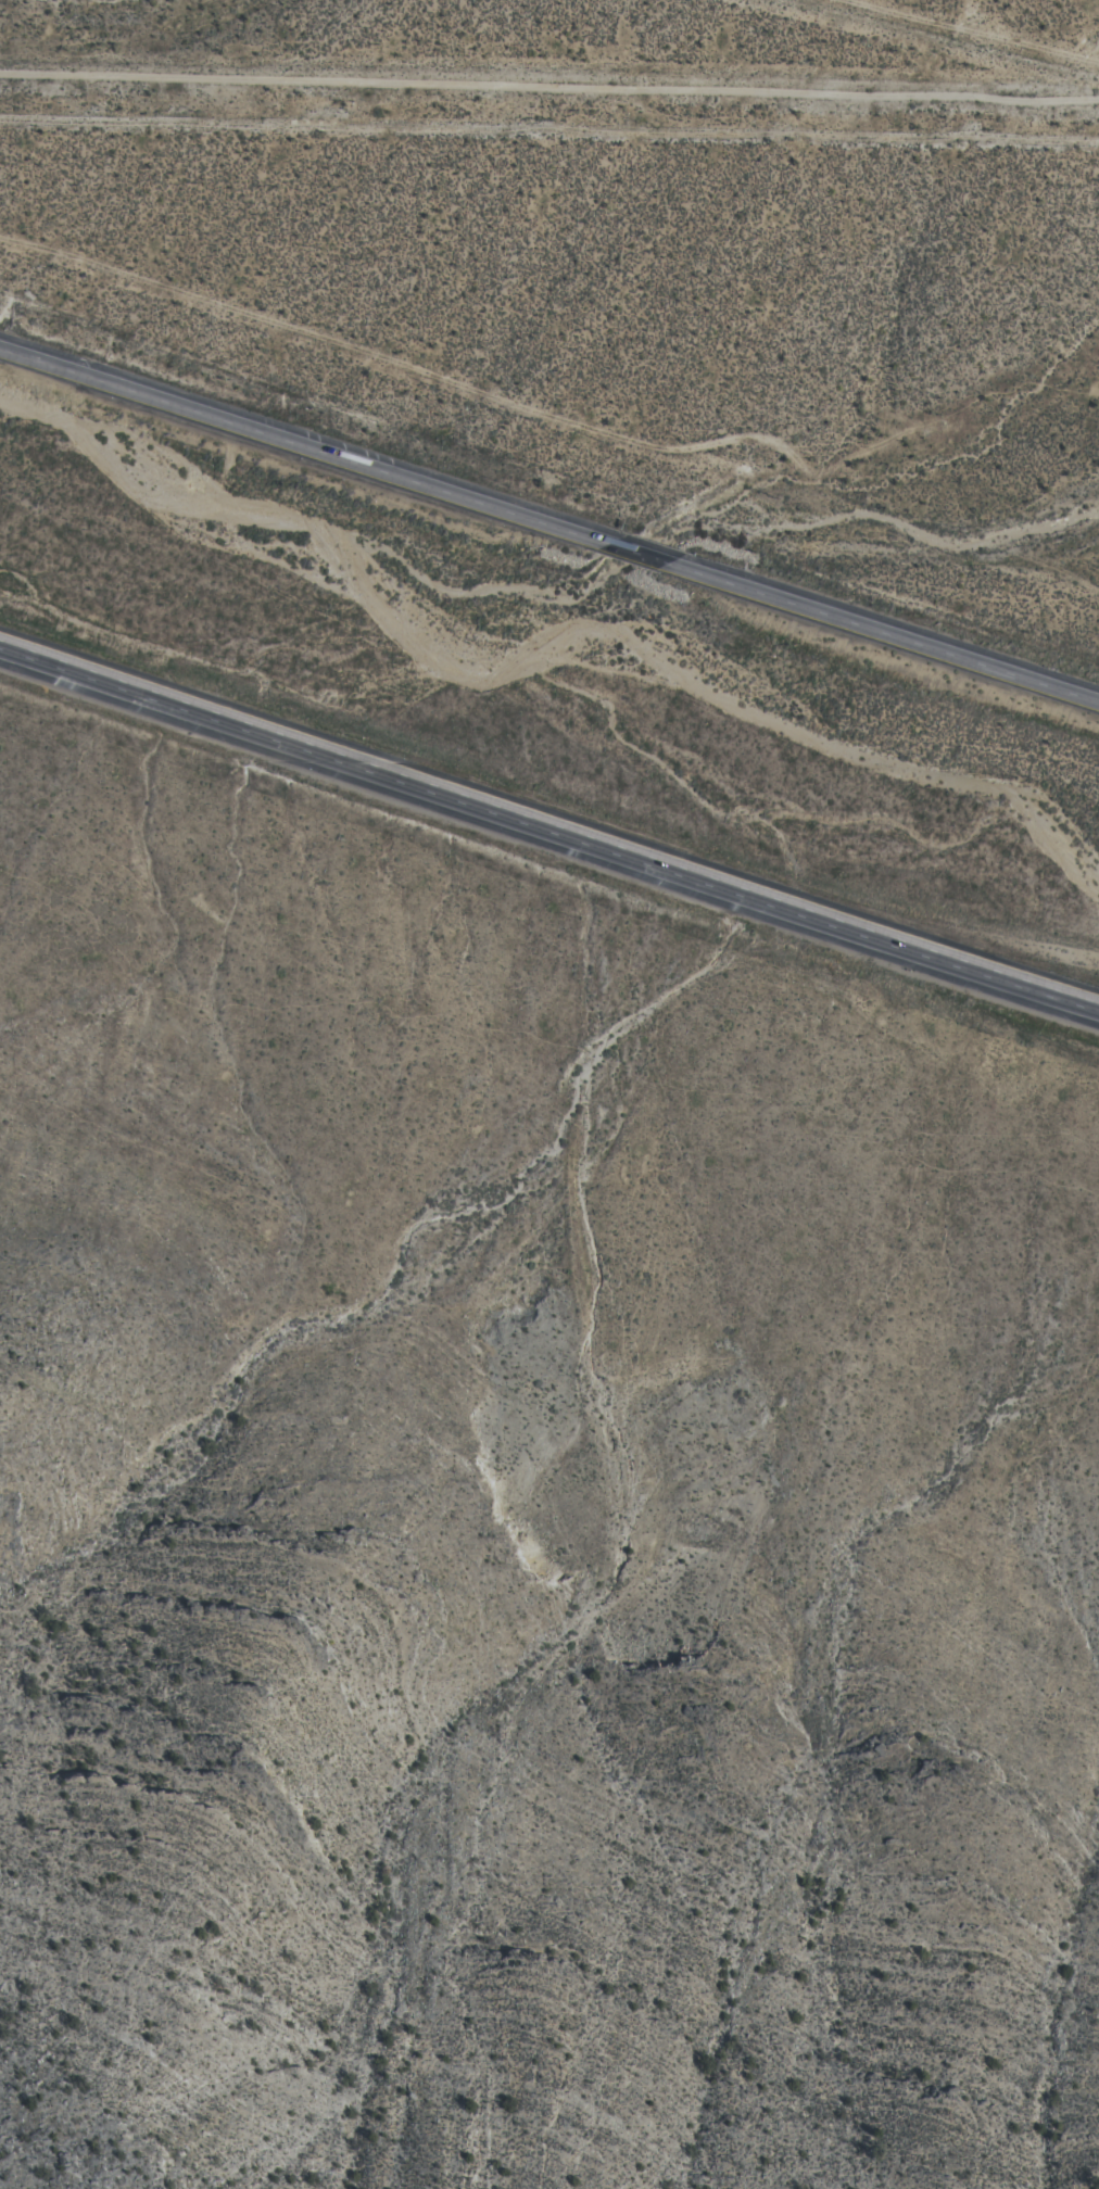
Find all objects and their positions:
road: (962, 34)
road: (549, 86)
road: (559, 401)
road: (300, 441)
road: (631, 547)
road: (1006, 572)
road: (881, 629)
railway: (554, 654)
road: (549, 825)

